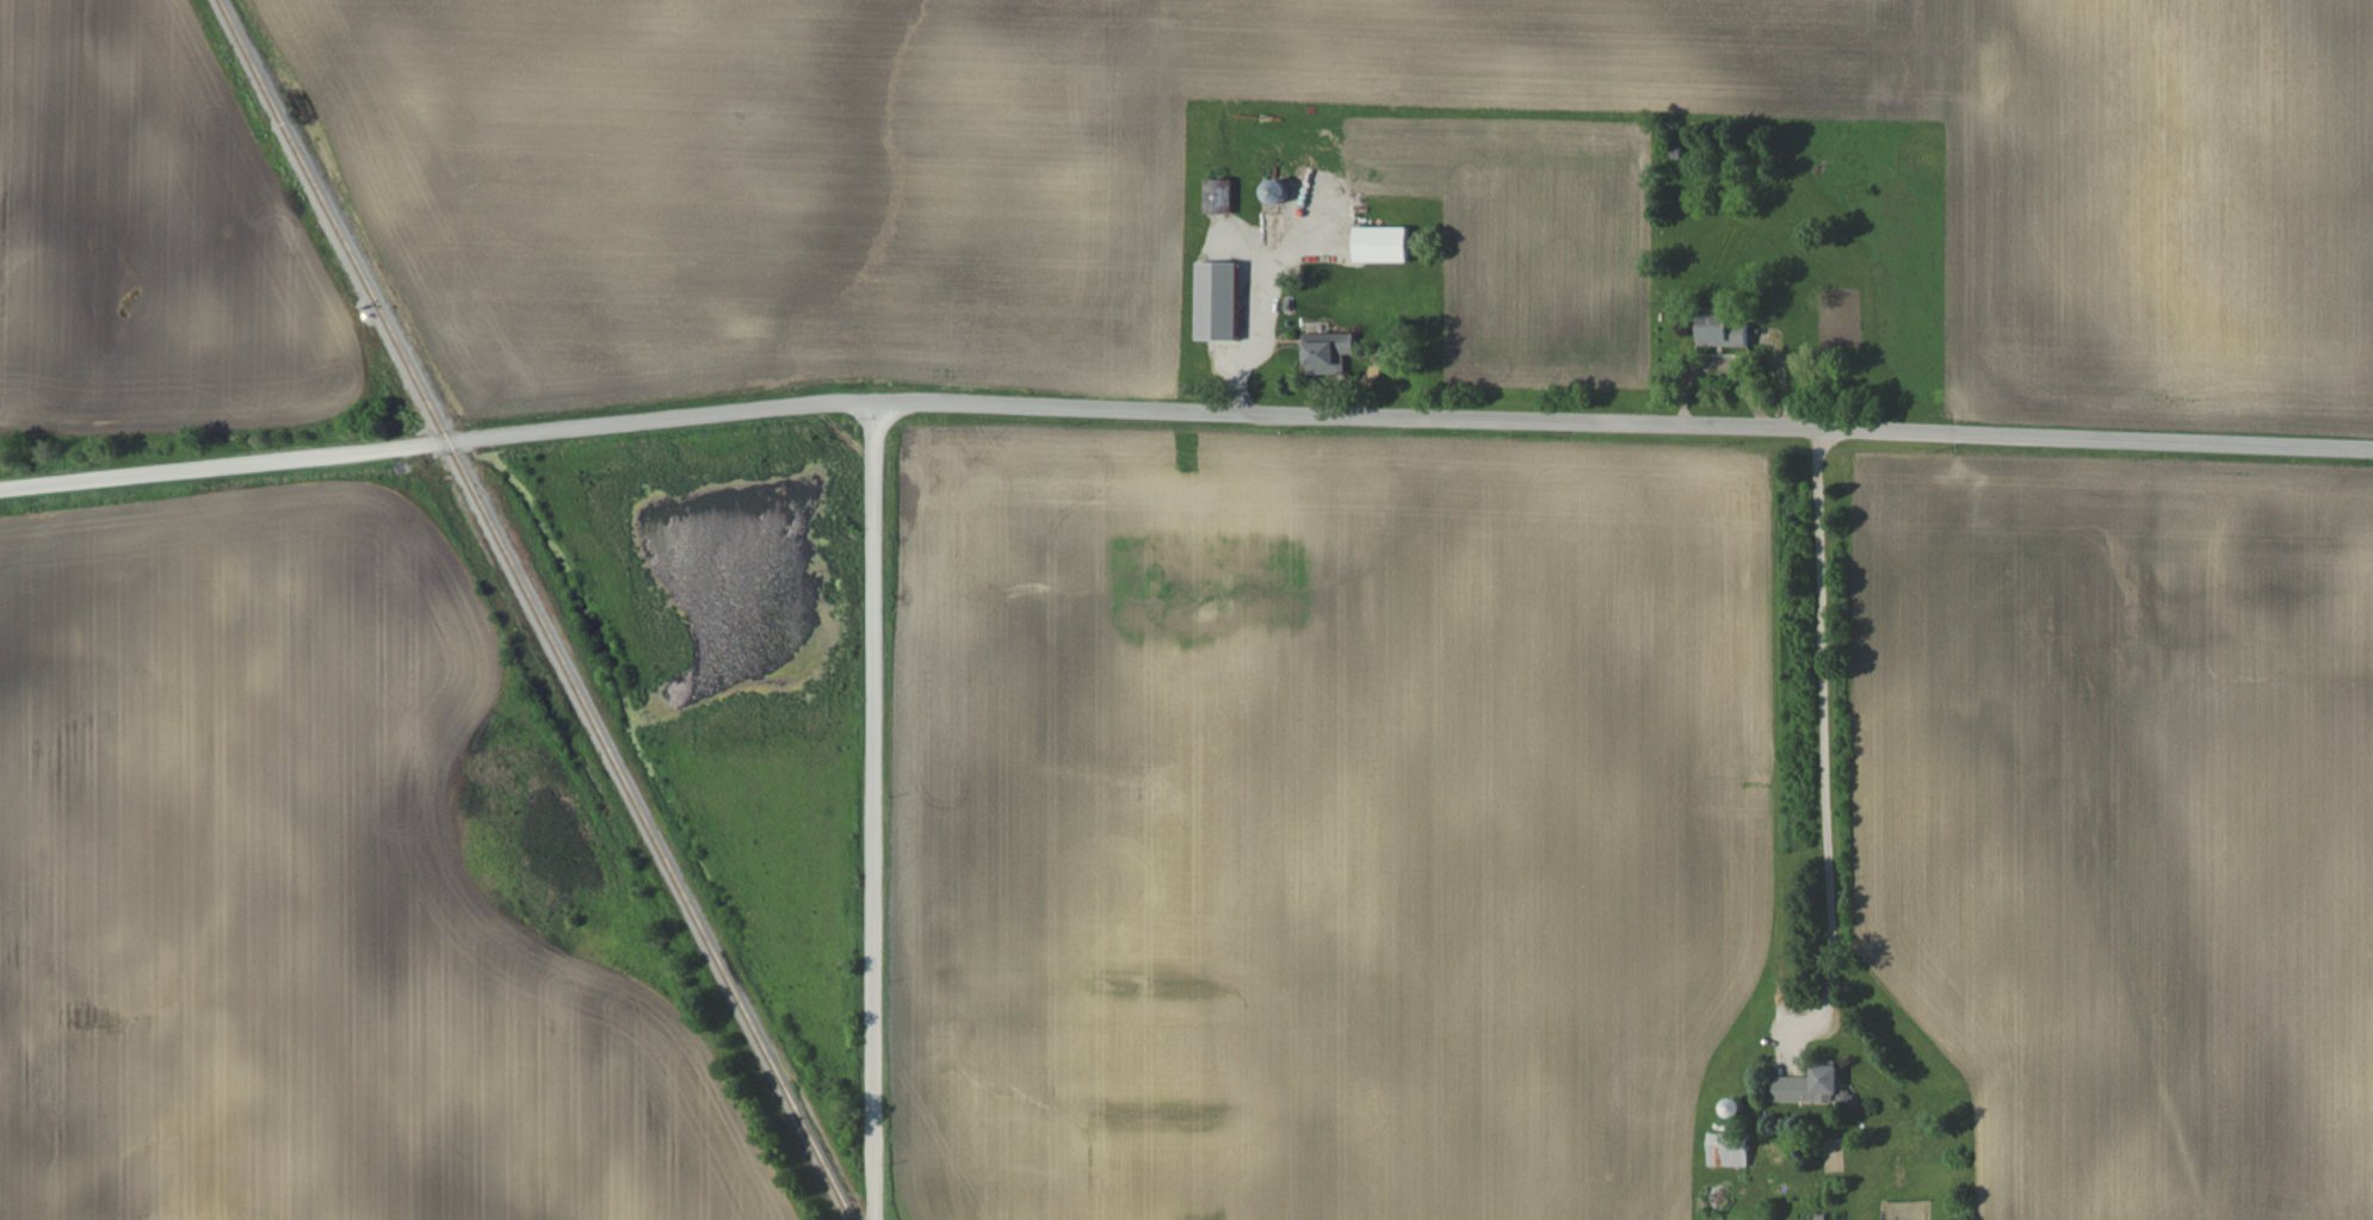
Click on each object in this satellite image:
building: (1382, 247)
building: (1217, 304)
building: (1719, 334)
building: (1325, 360)
road: (1184, 411)
railway: (534, 609)
road: (1823, 710)
road: (871, 812)
building: (1809, 1086)
building: (1735, 1158)

